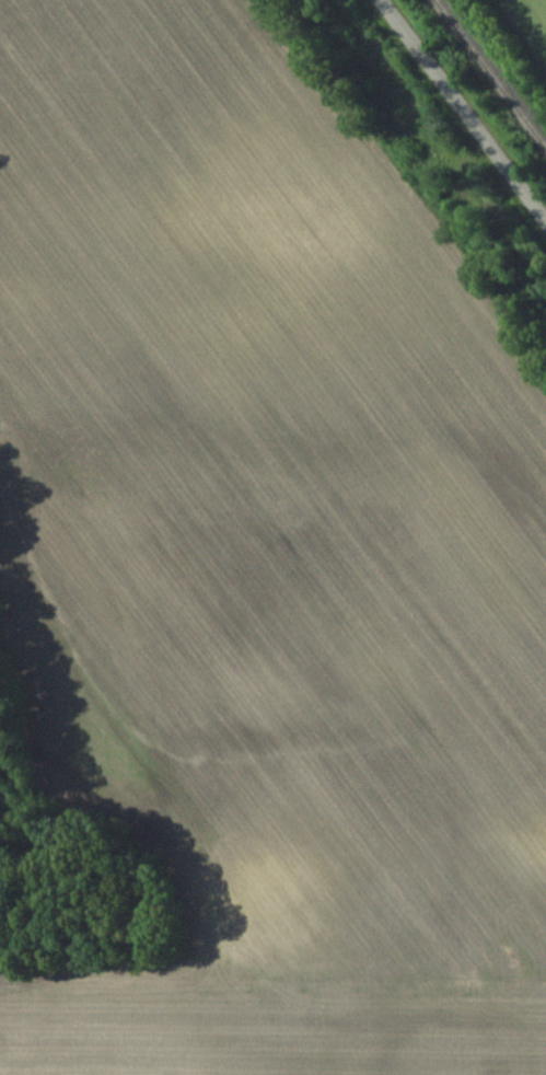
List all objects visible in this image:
railway: (492, 70)
road: (465, 106)

